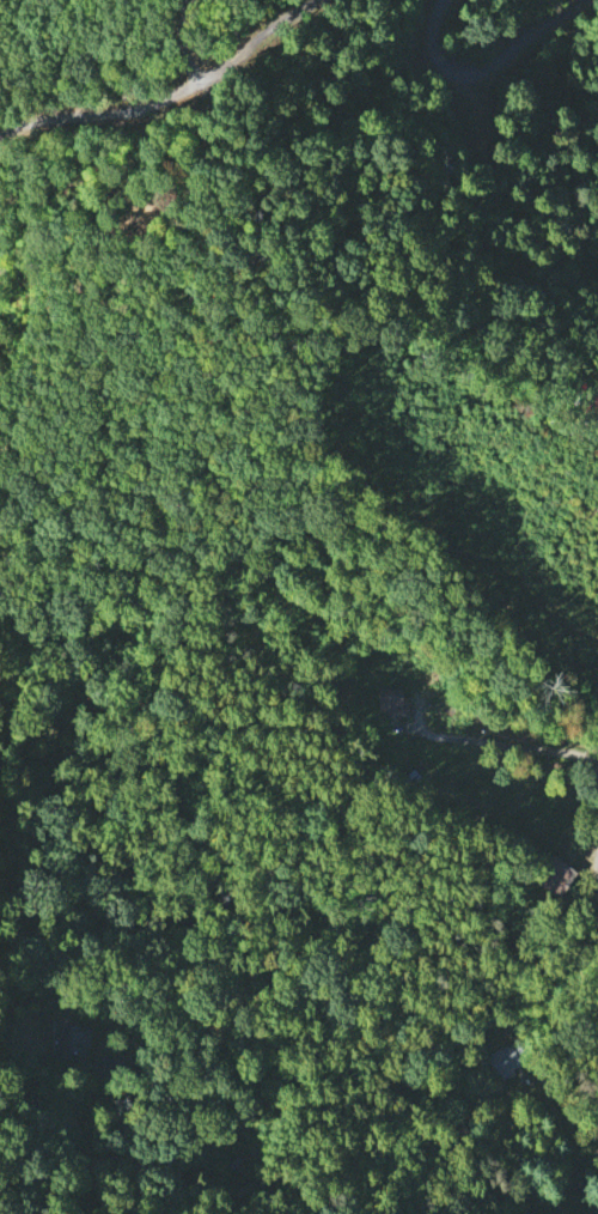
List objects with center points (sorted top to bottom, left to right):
road: (183, 42)
road: (493, 68)
road: (170, 95)
building: (386, 698)
road: (508, 743)
building: (559, 875)
building: (74, 1039)
building: (505, 1061)
road: (506, 1167)

